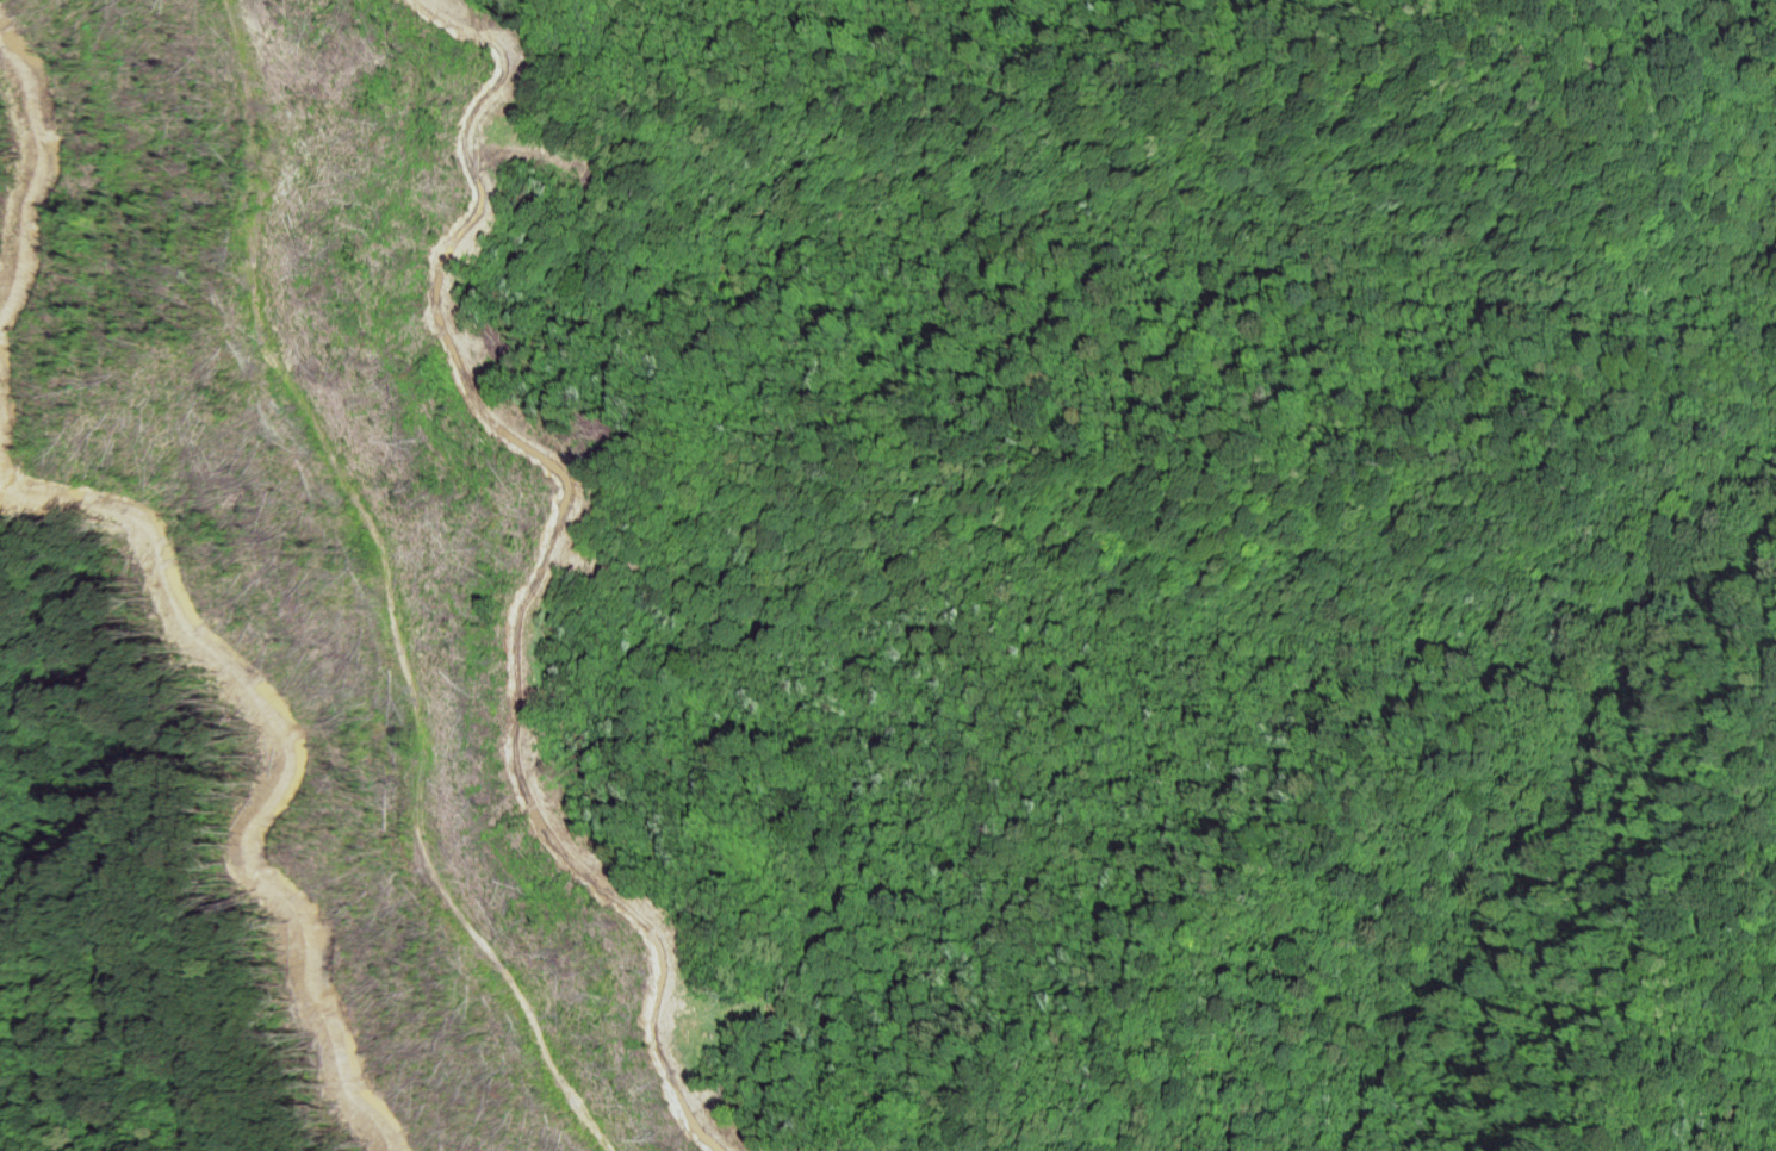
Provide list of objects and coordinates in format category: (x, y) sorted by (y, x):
quarry: (317, 545)

